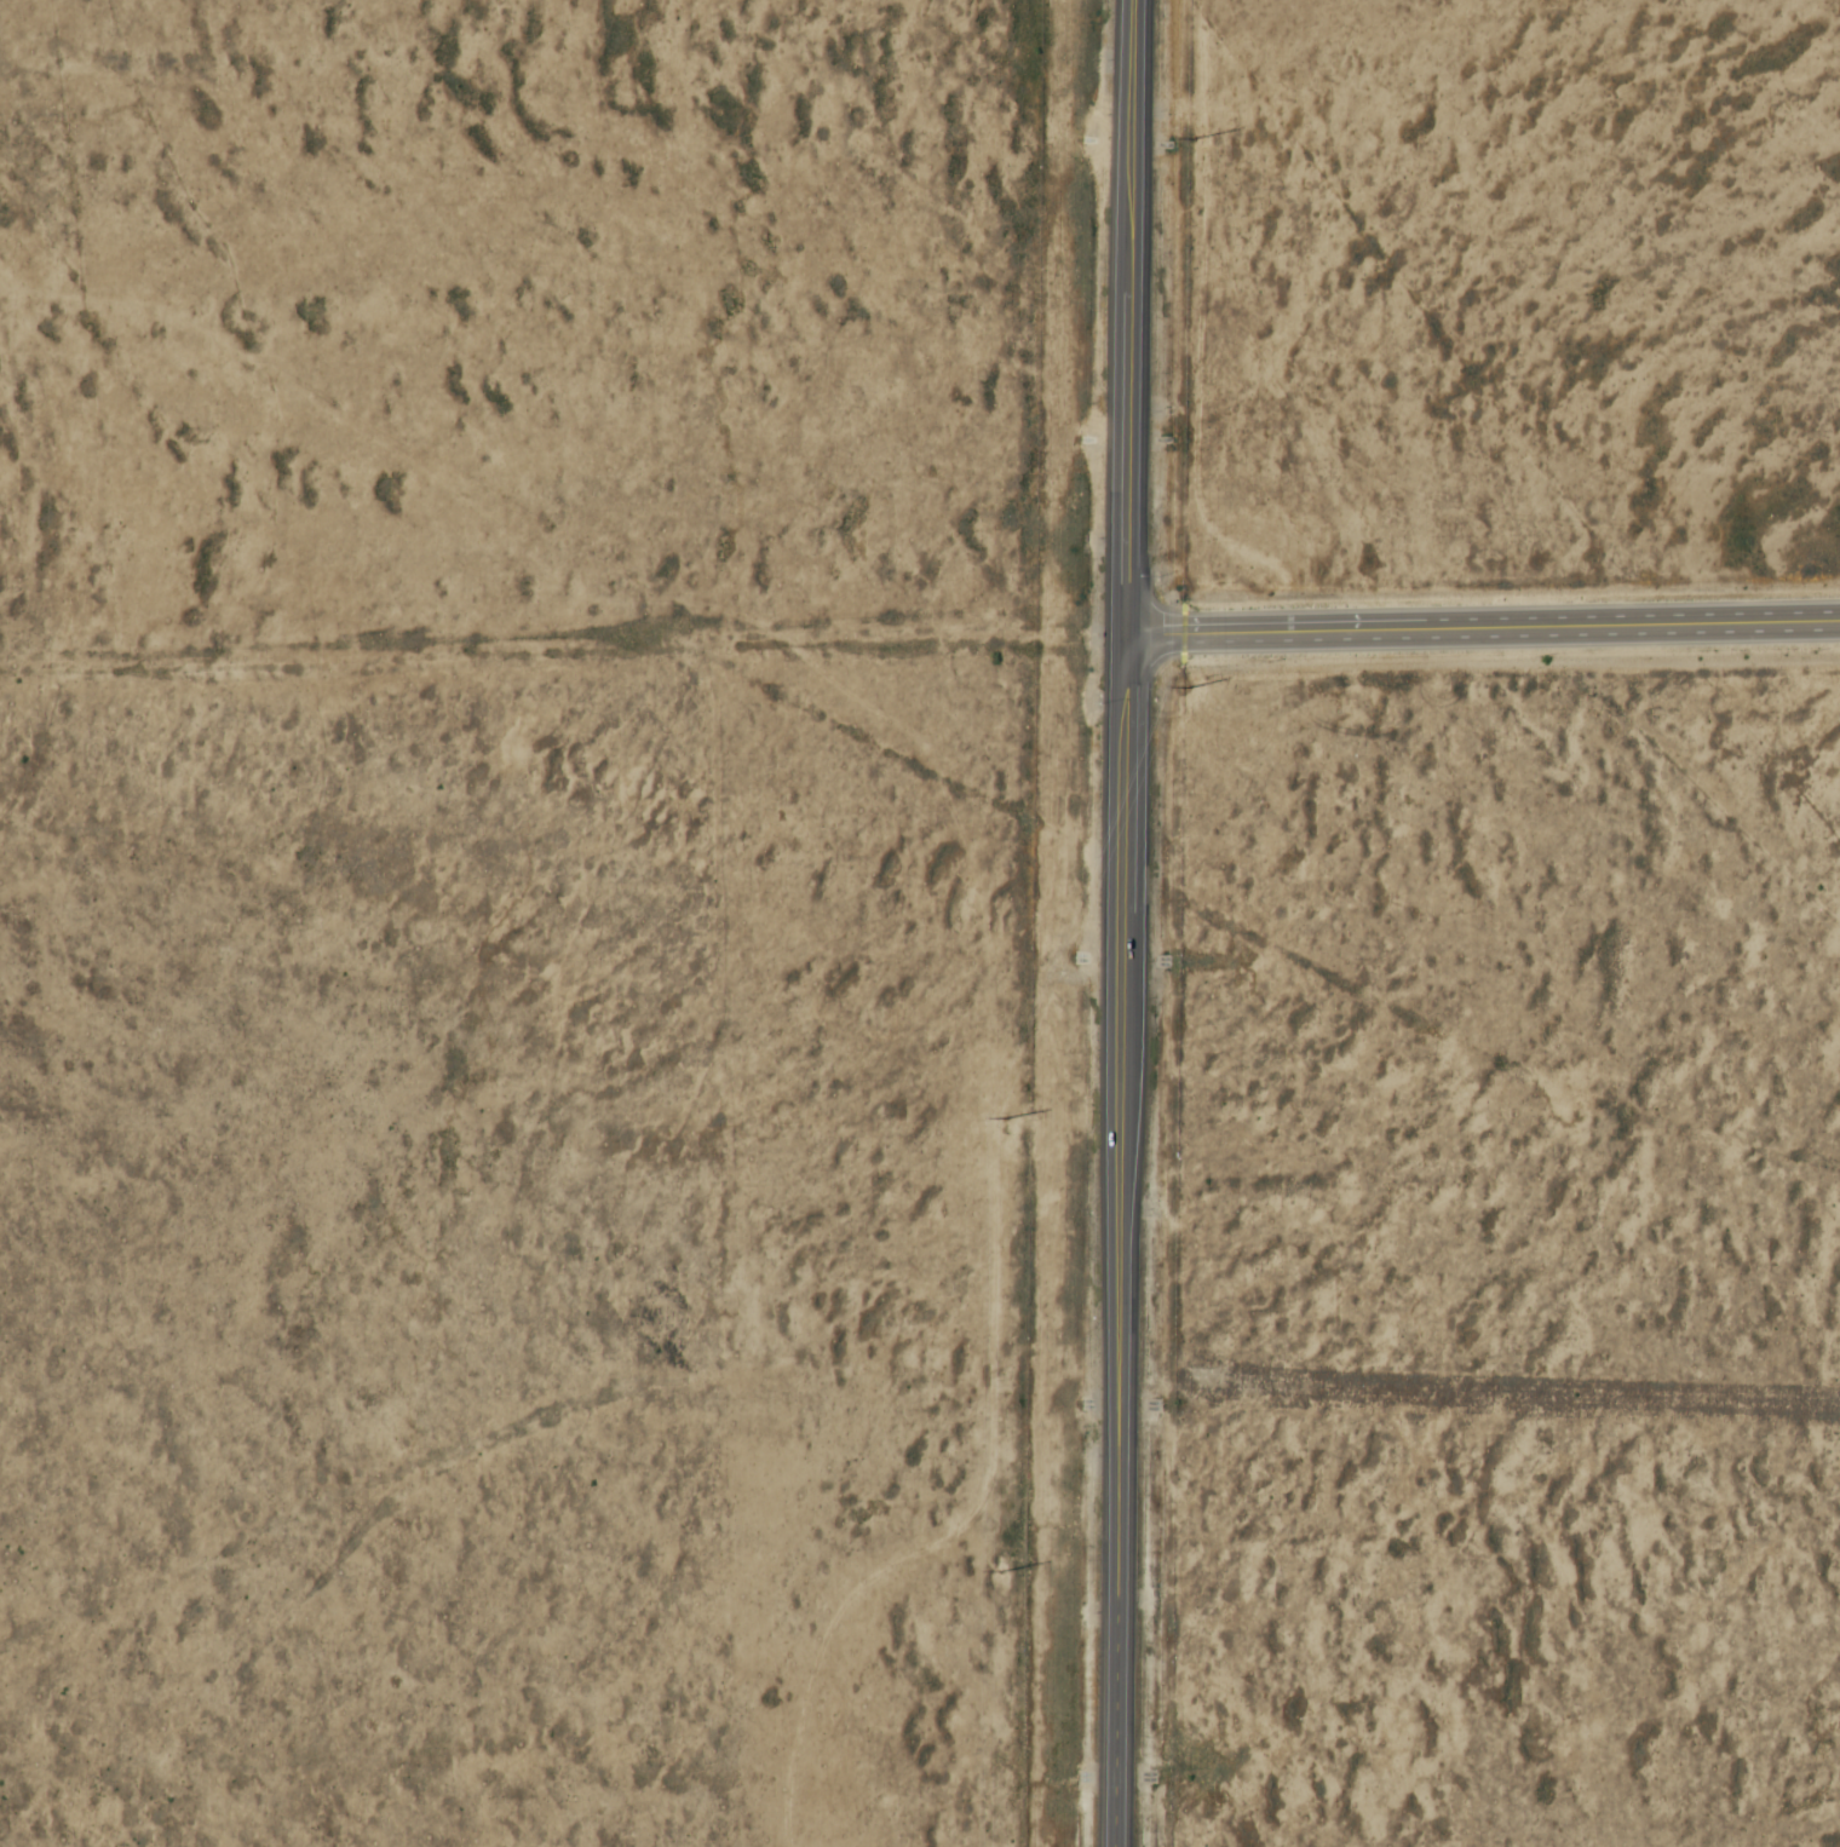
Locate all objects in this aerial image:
road: (1131, 315)
road: (48, 514)
road: (1483, 621)
road: (1120, 1238)

